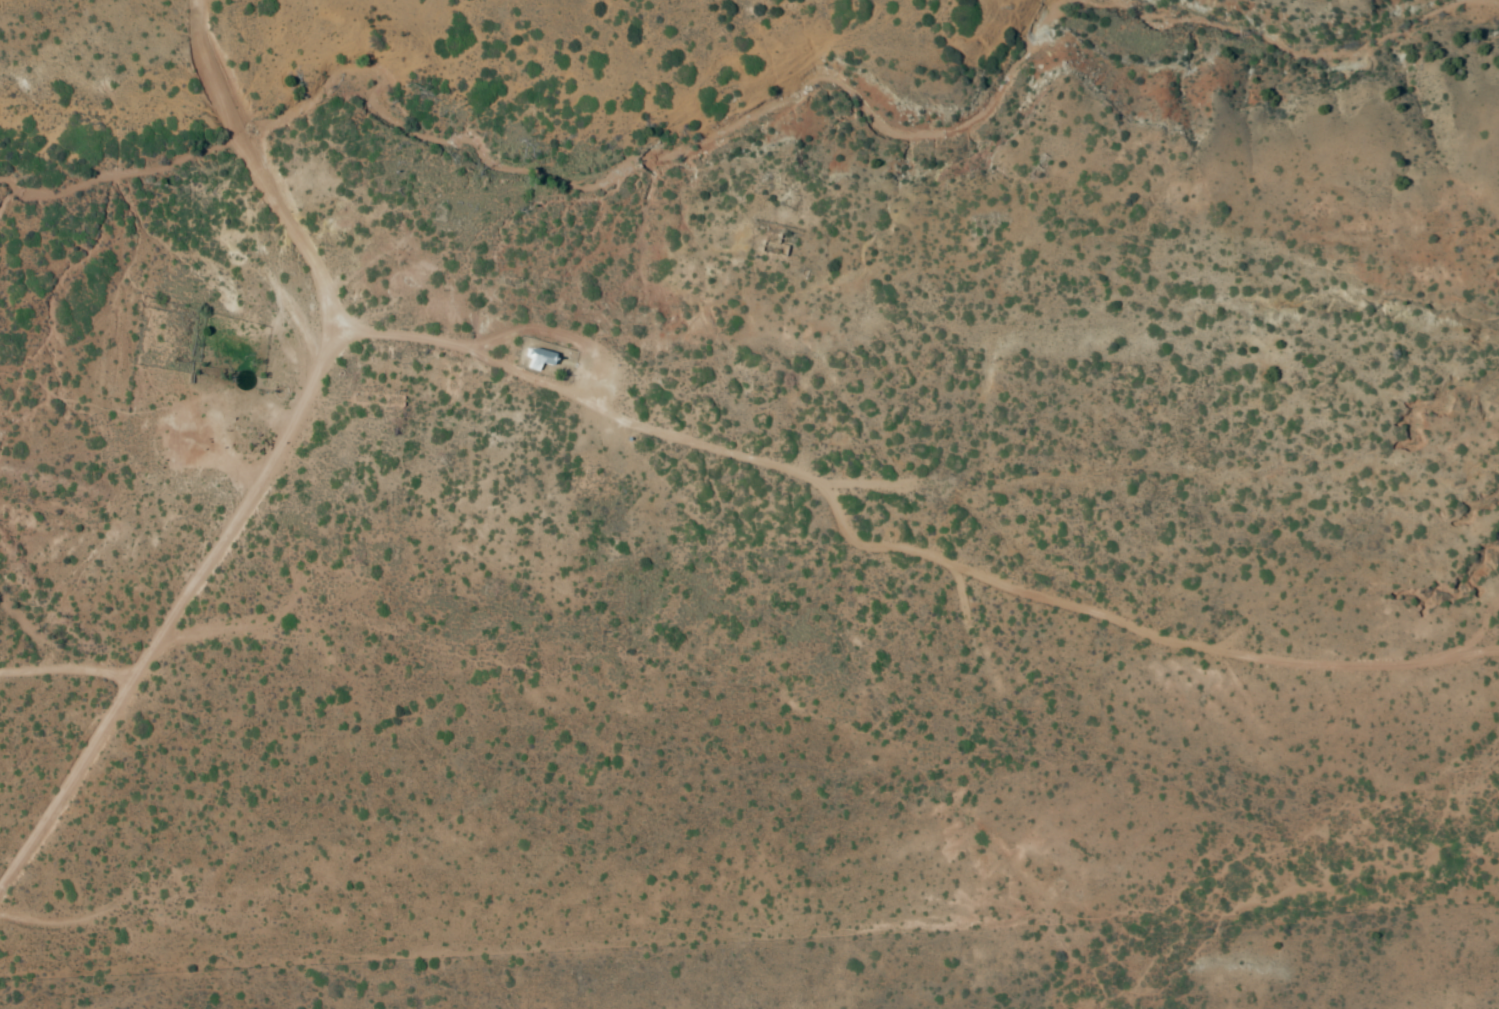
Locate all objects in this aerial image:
building: (541, 360)
road: (743, 449)
road: (178, 634)

